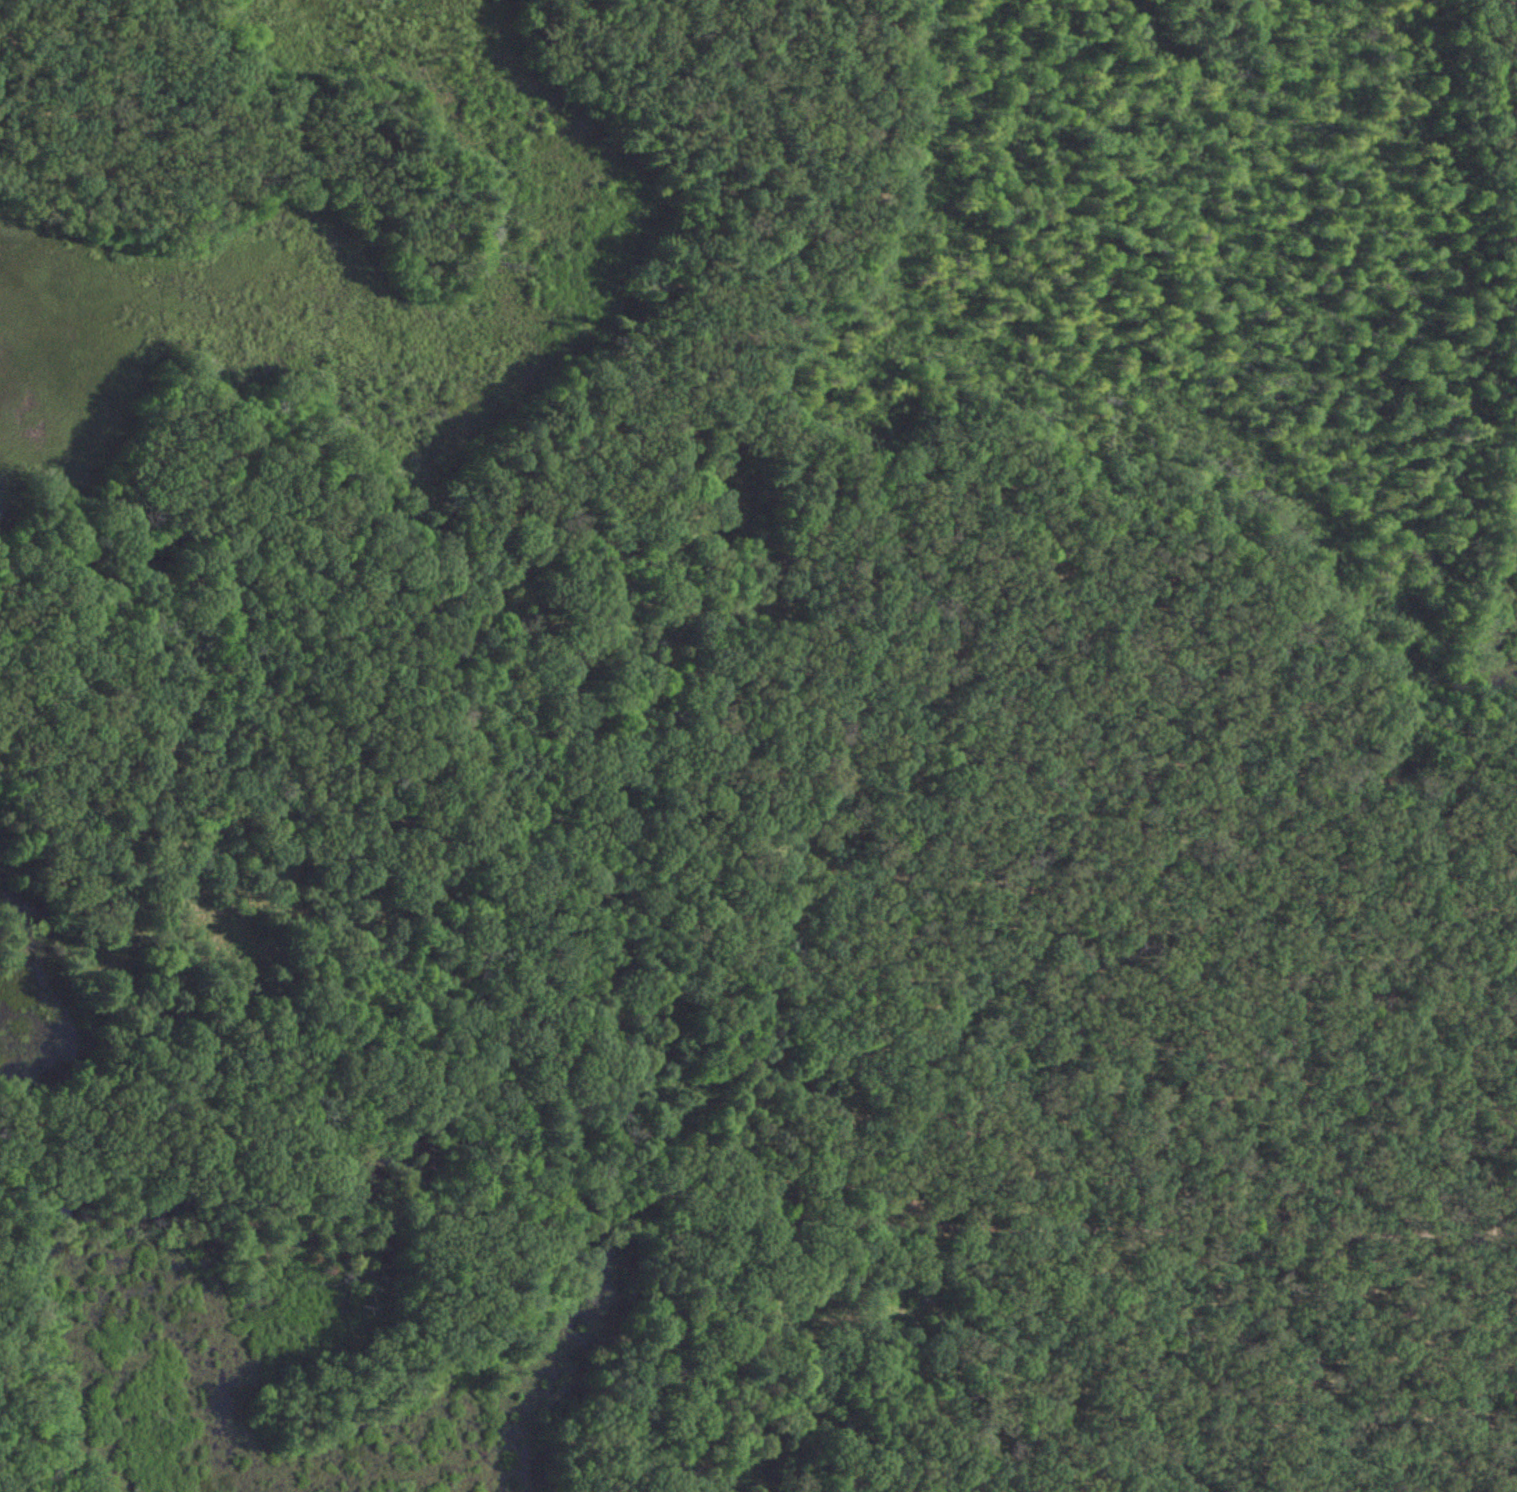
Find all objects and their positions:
road: (1442, 748)

